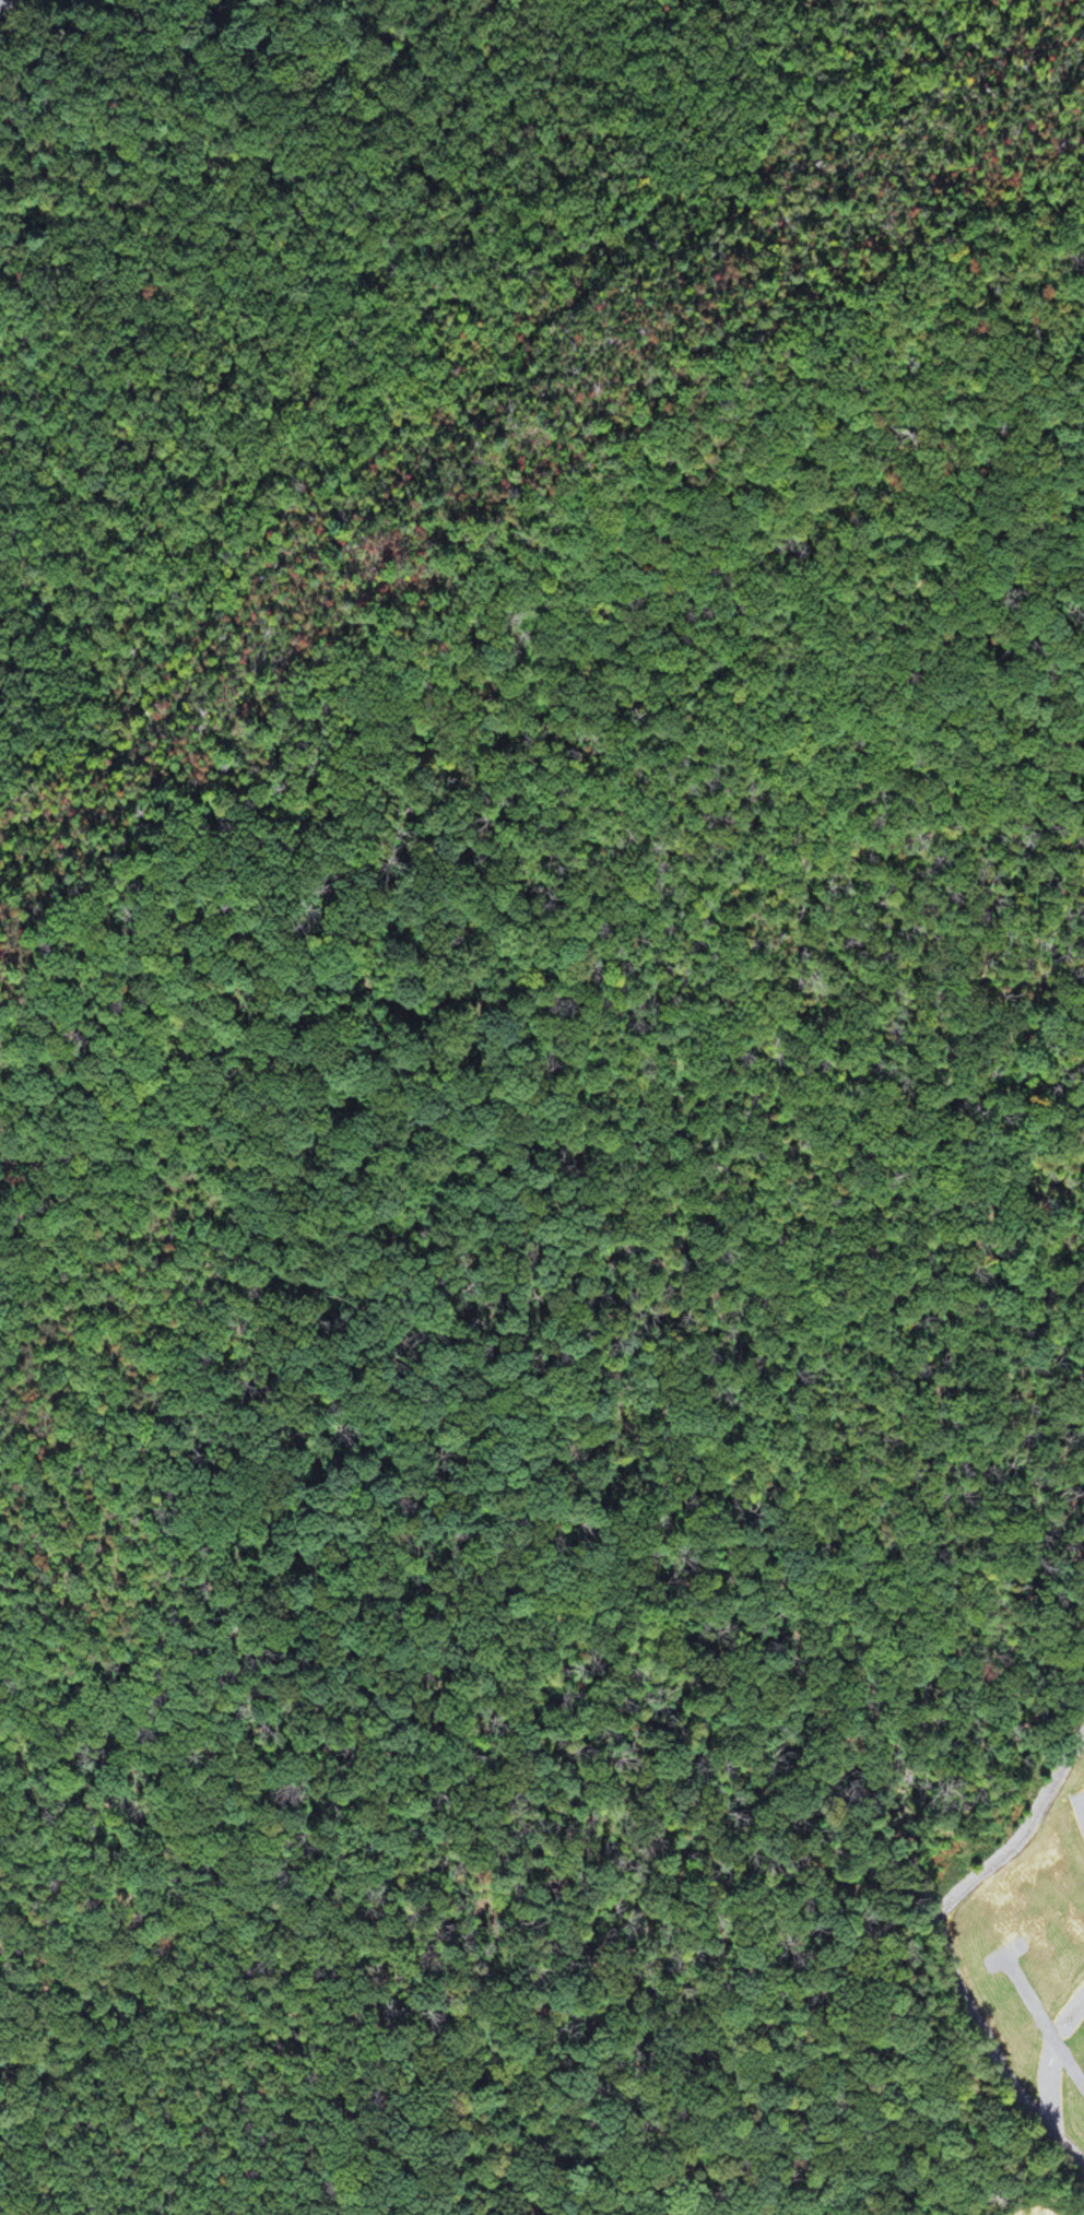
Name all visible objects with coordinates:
road: (604, 721)

